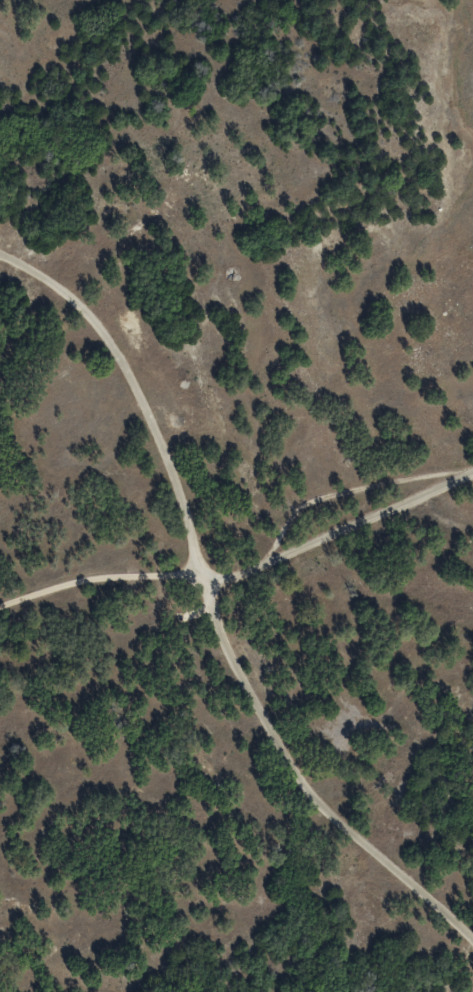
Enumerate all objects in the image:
road: (251, 556)
road: (210, 597)

